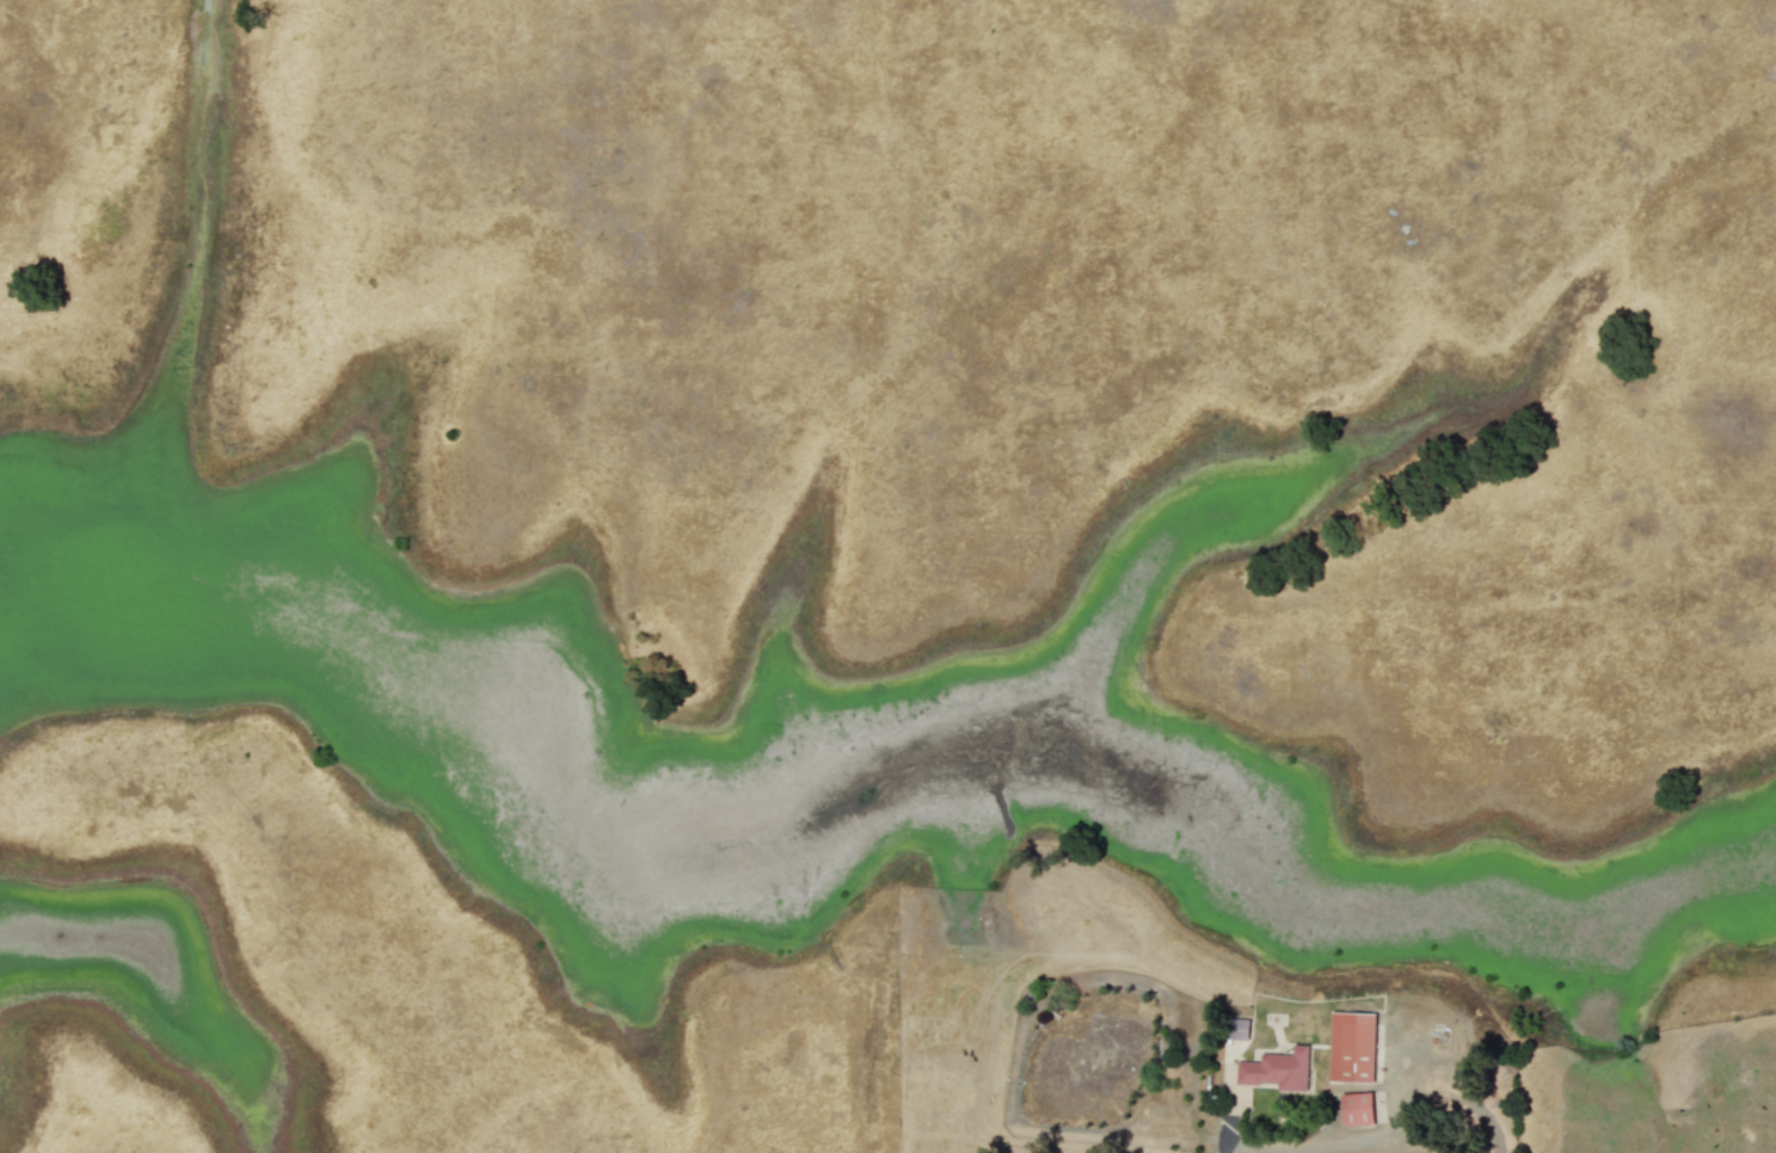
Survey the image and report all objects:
building: (1351, 1046)
building: (1277, 1068)
building: (1357, 1108)
road: (1387, 1127)

